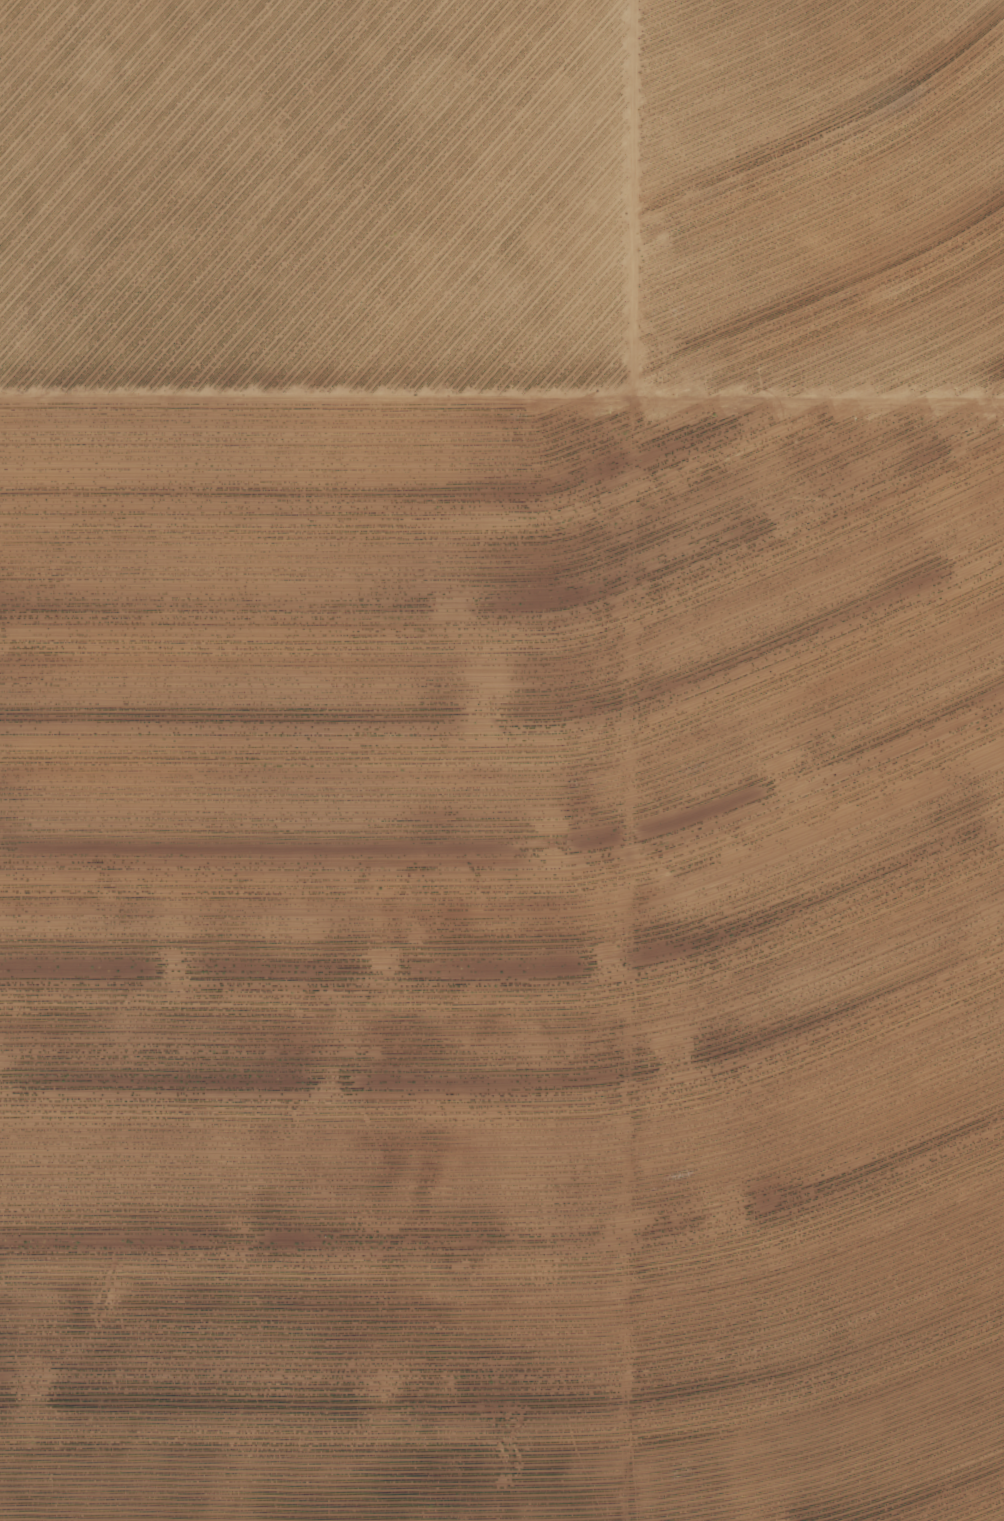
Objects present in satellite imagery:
road: (507, 402)

